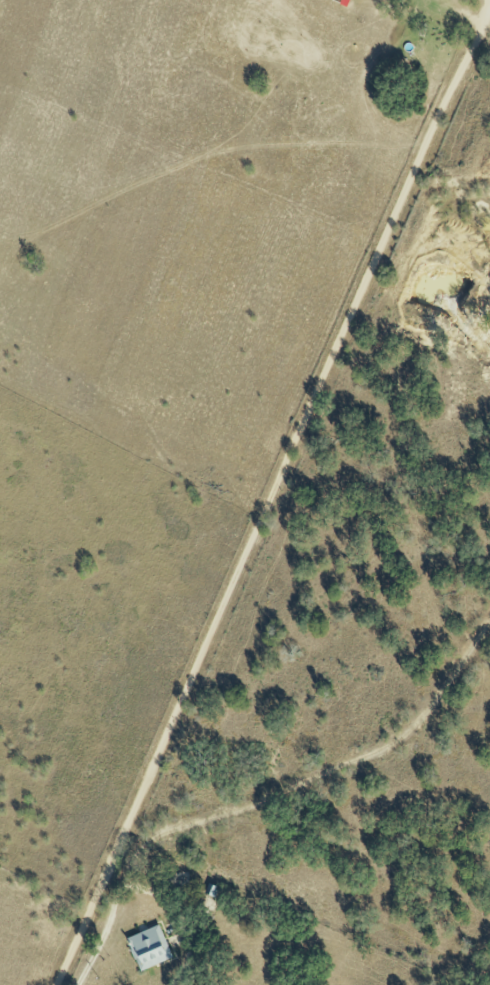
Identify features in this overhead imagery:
road: (272, 492)
road: (181, 918)
road: (103, 941)
building: (148, 947)

